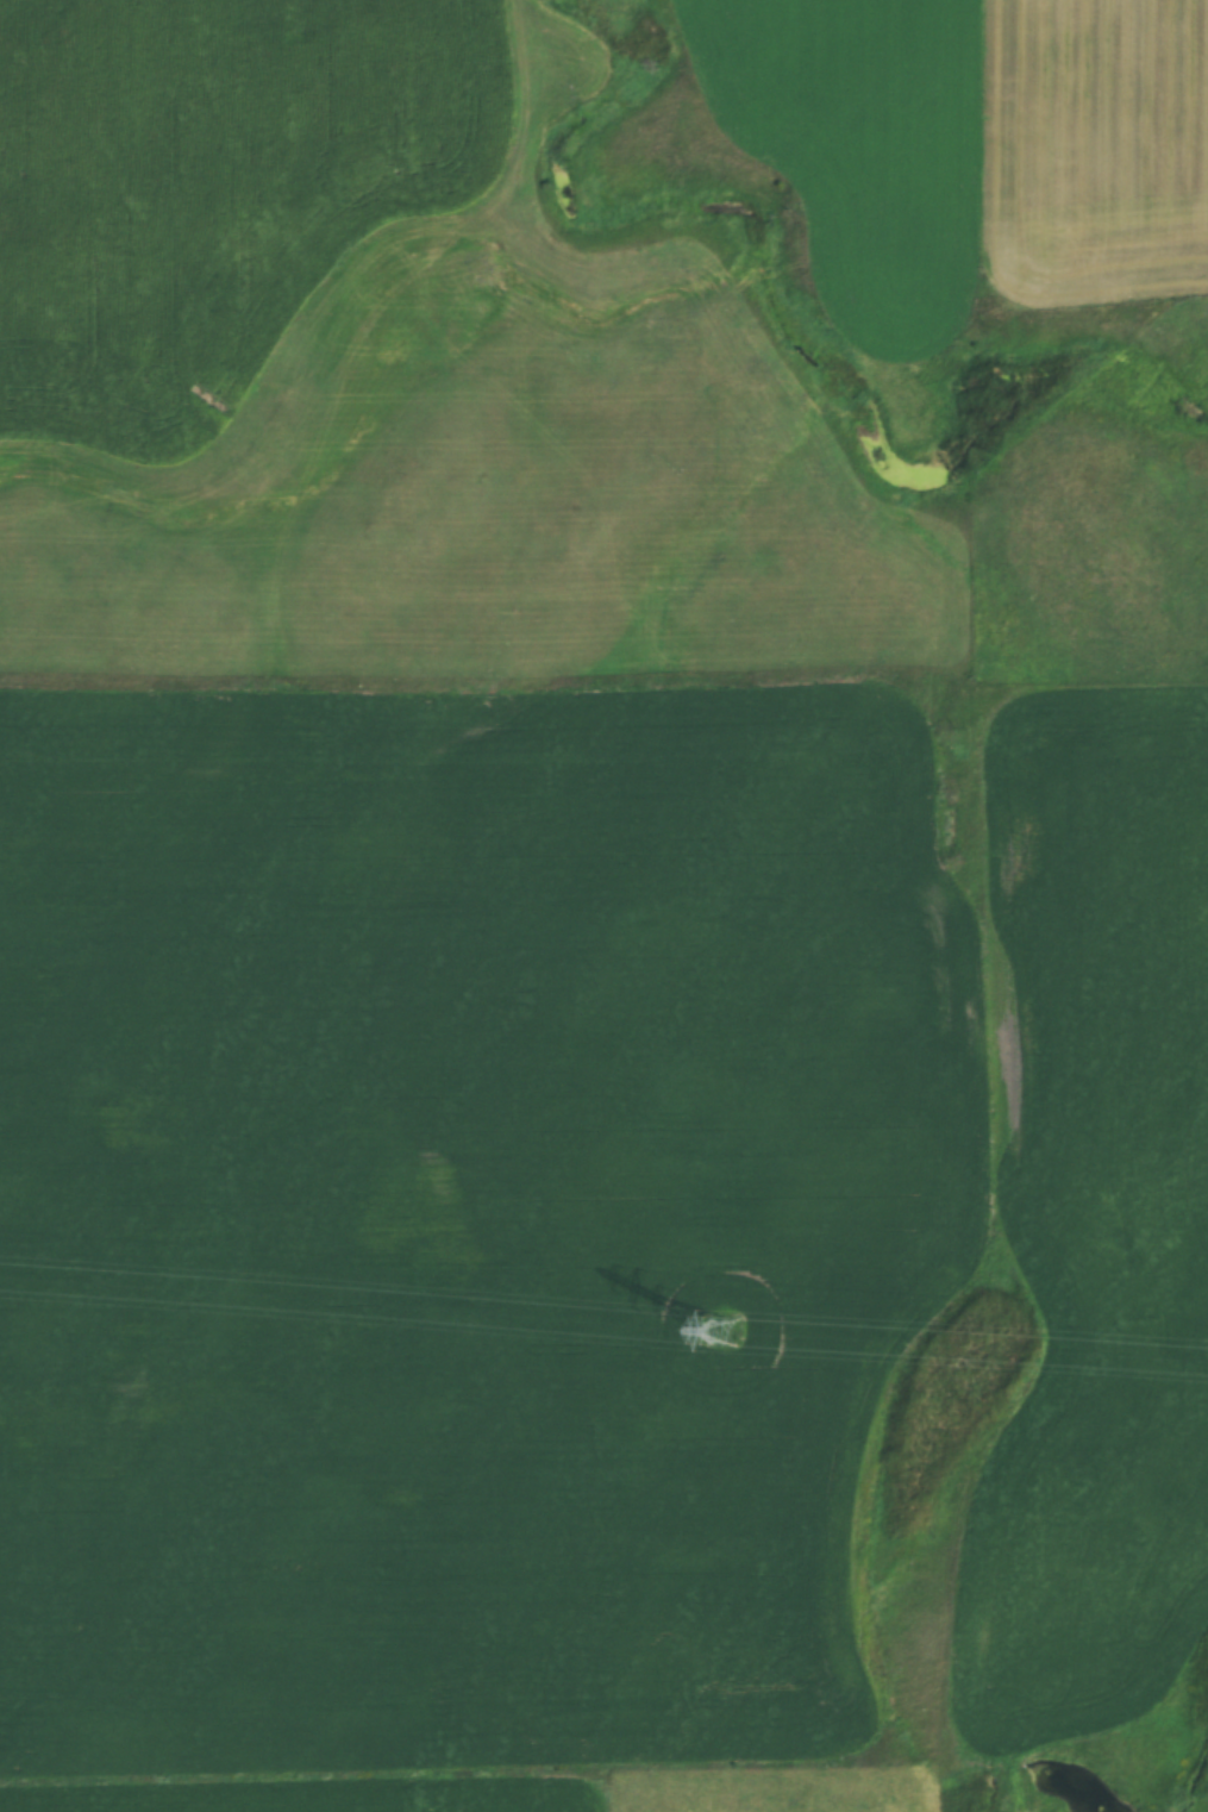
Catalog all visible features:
power tower: (722, 1333)
river: (940, 1794)

